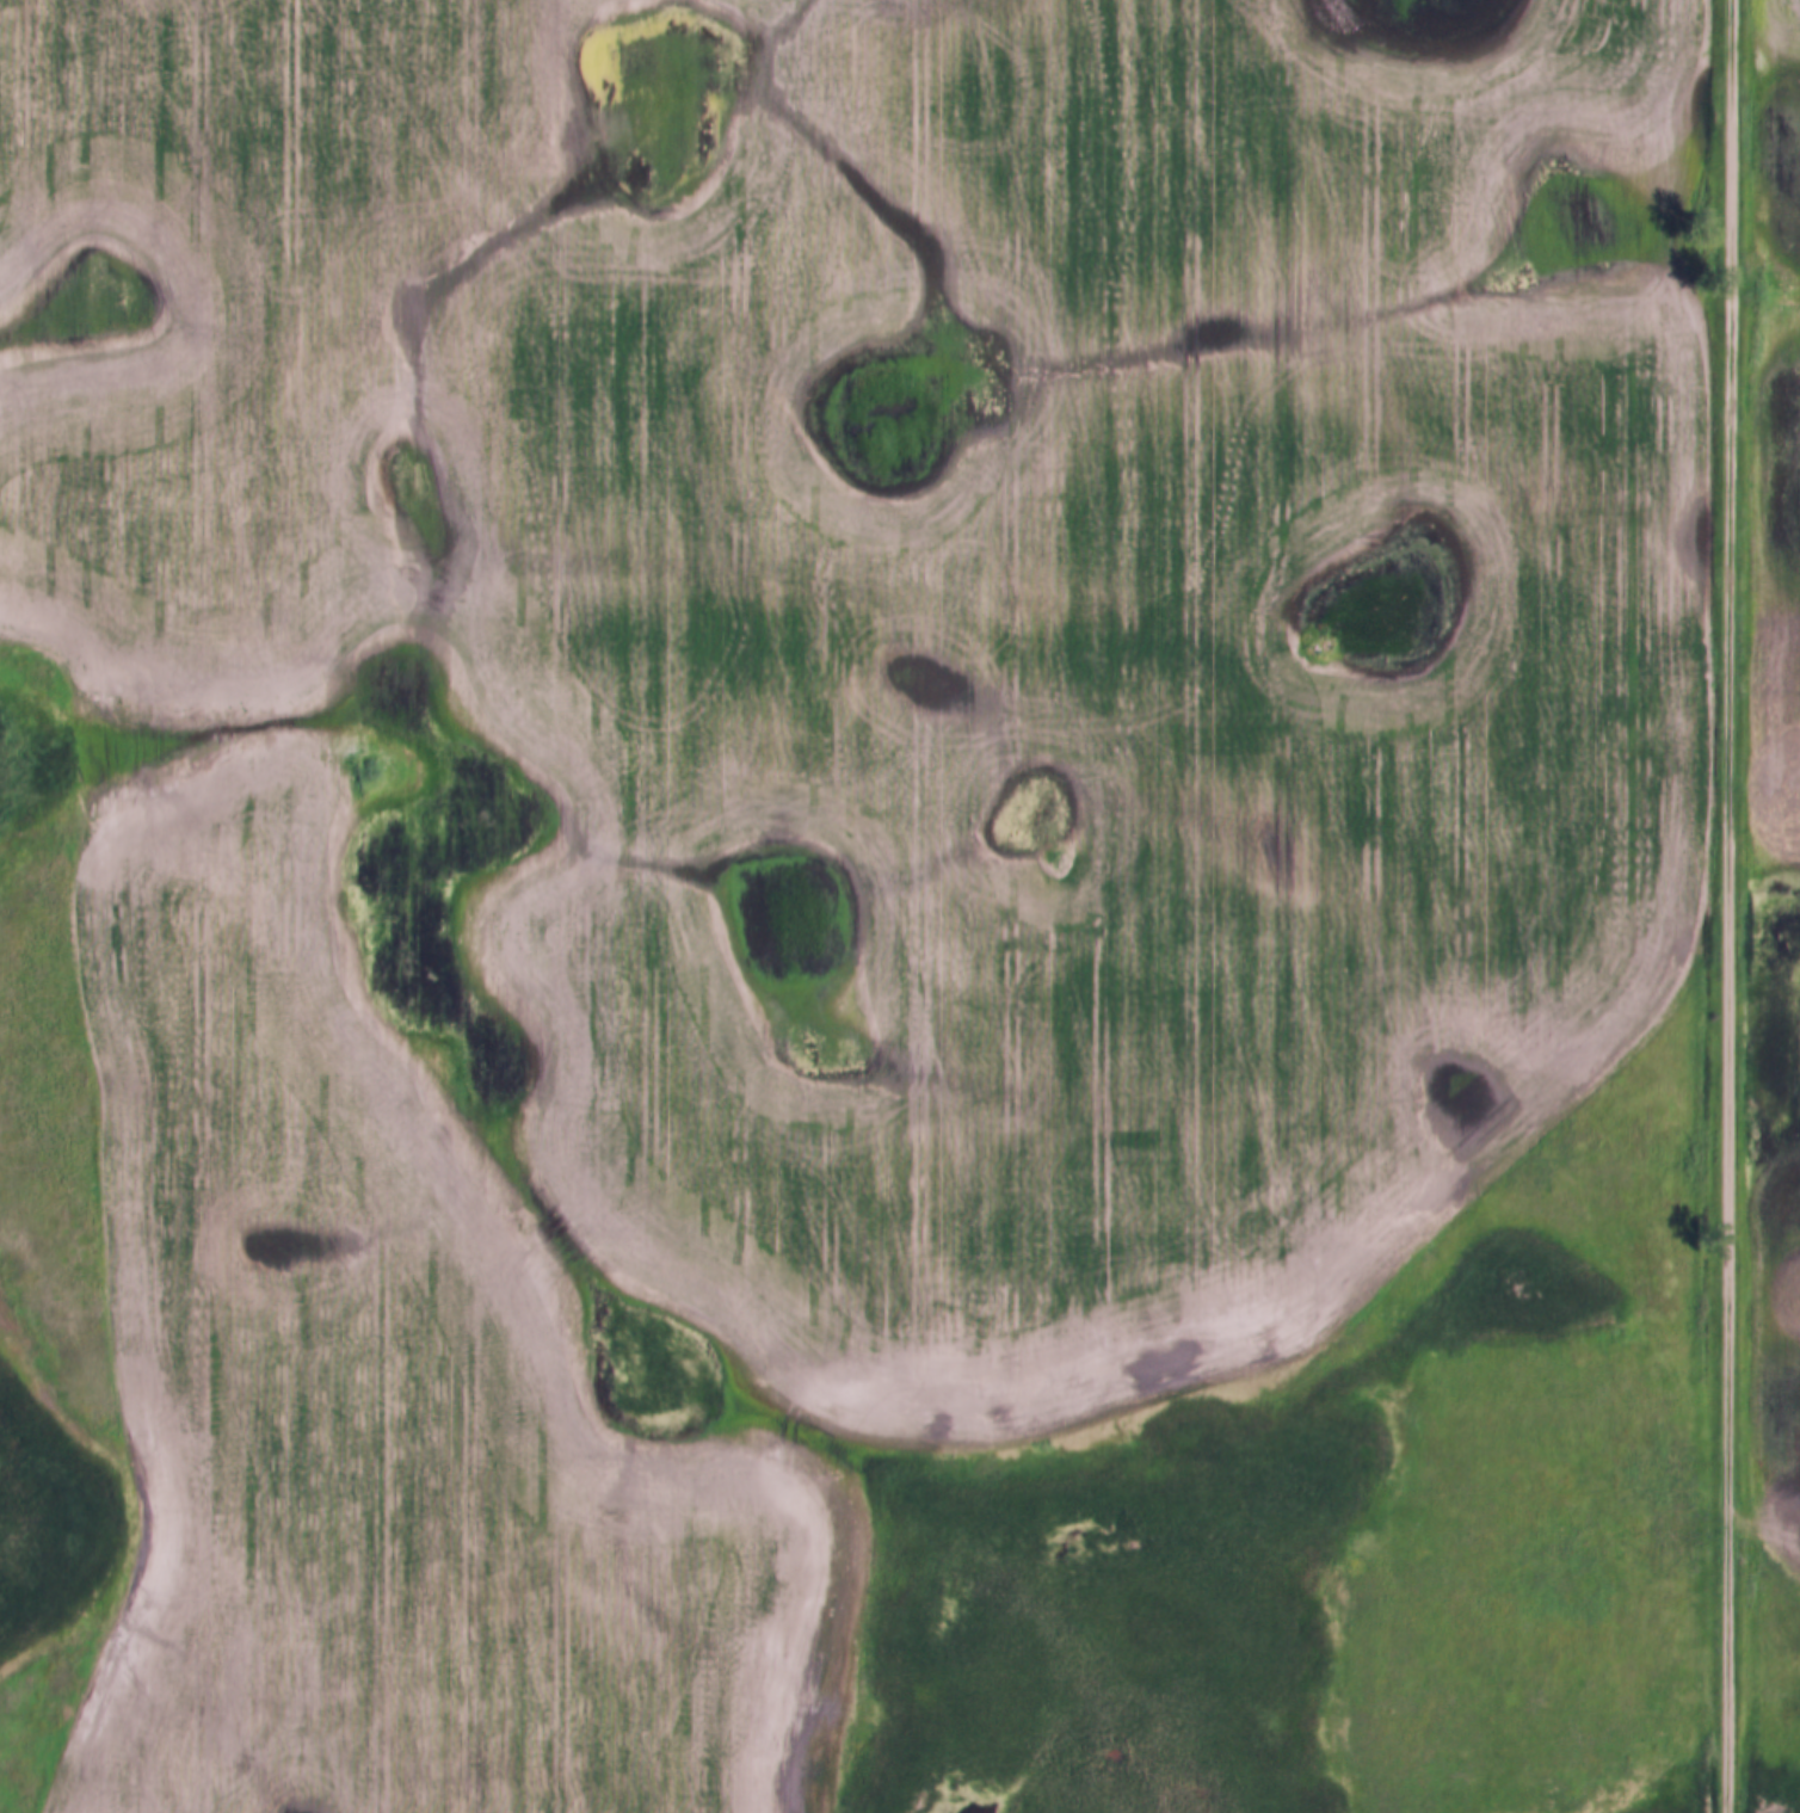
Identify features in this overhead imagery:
road: (1731, 906)

